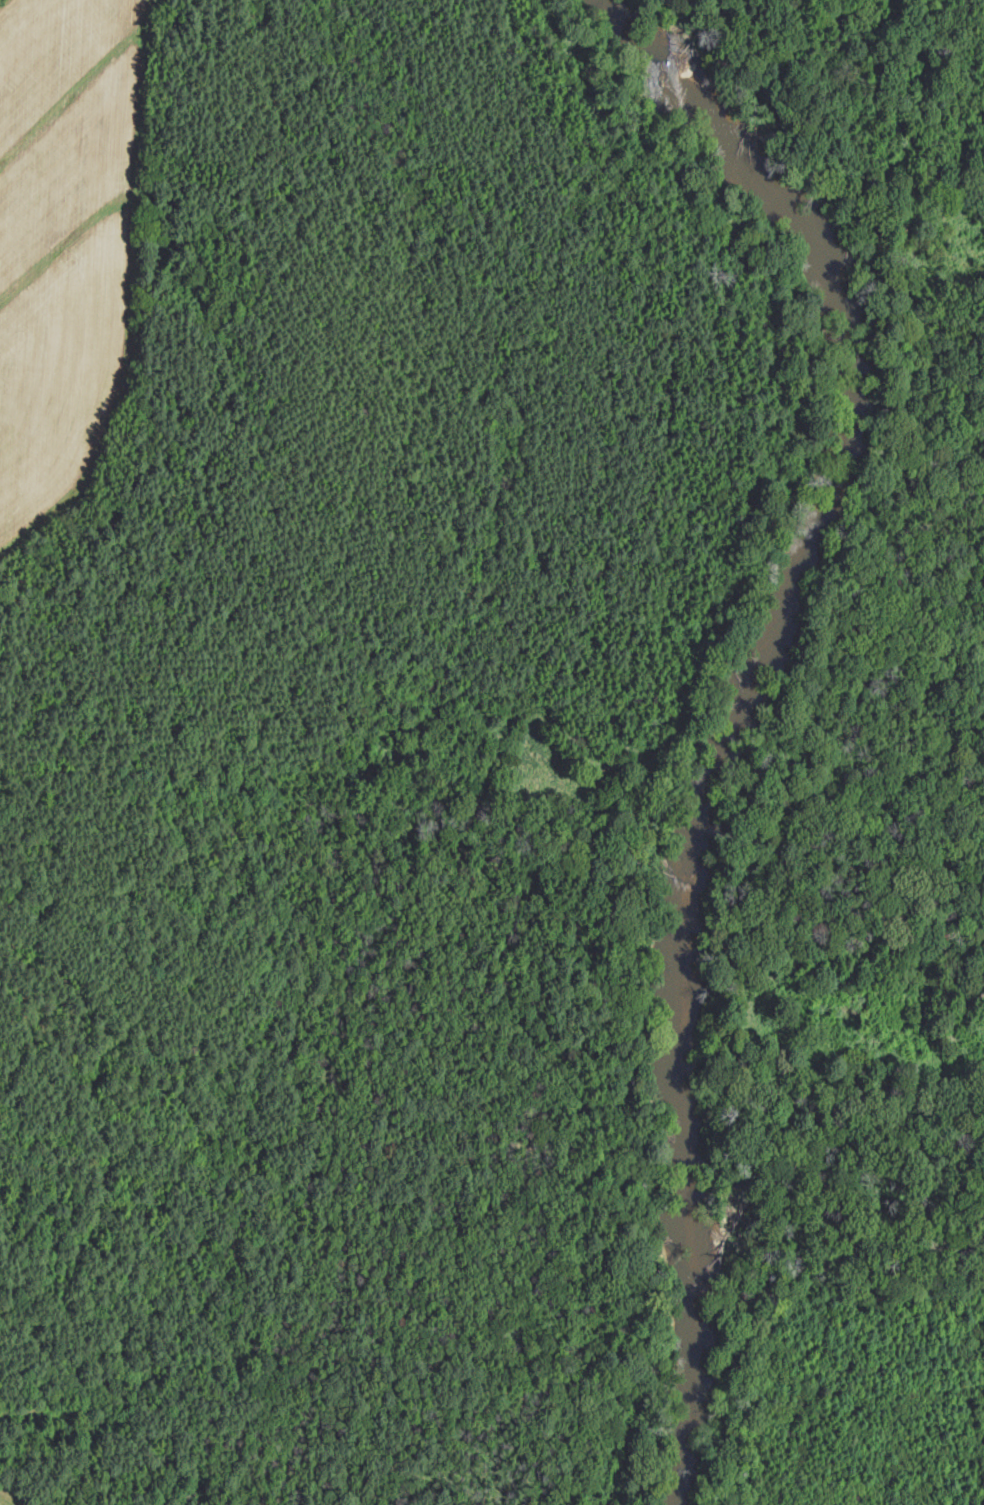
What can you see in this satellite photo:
river: (801, 562)
river: (685, 1352)

